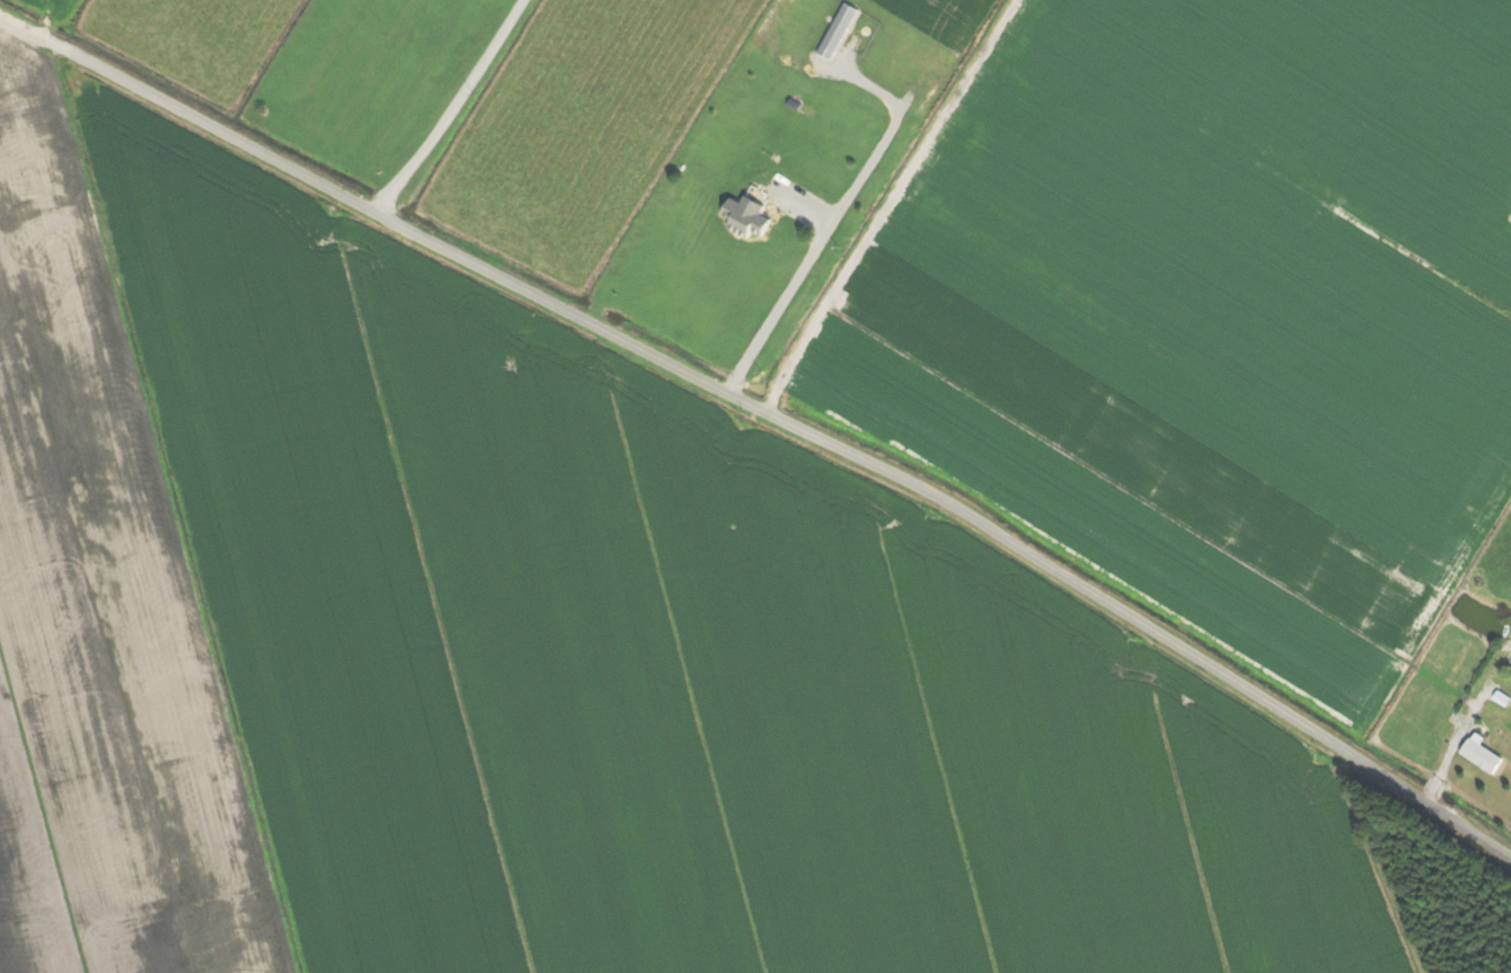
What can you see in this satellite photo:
road: (455, 107)
building: (748, 216)
road: (834, 221)
road: (767, 411)
building: (1483, 755)

